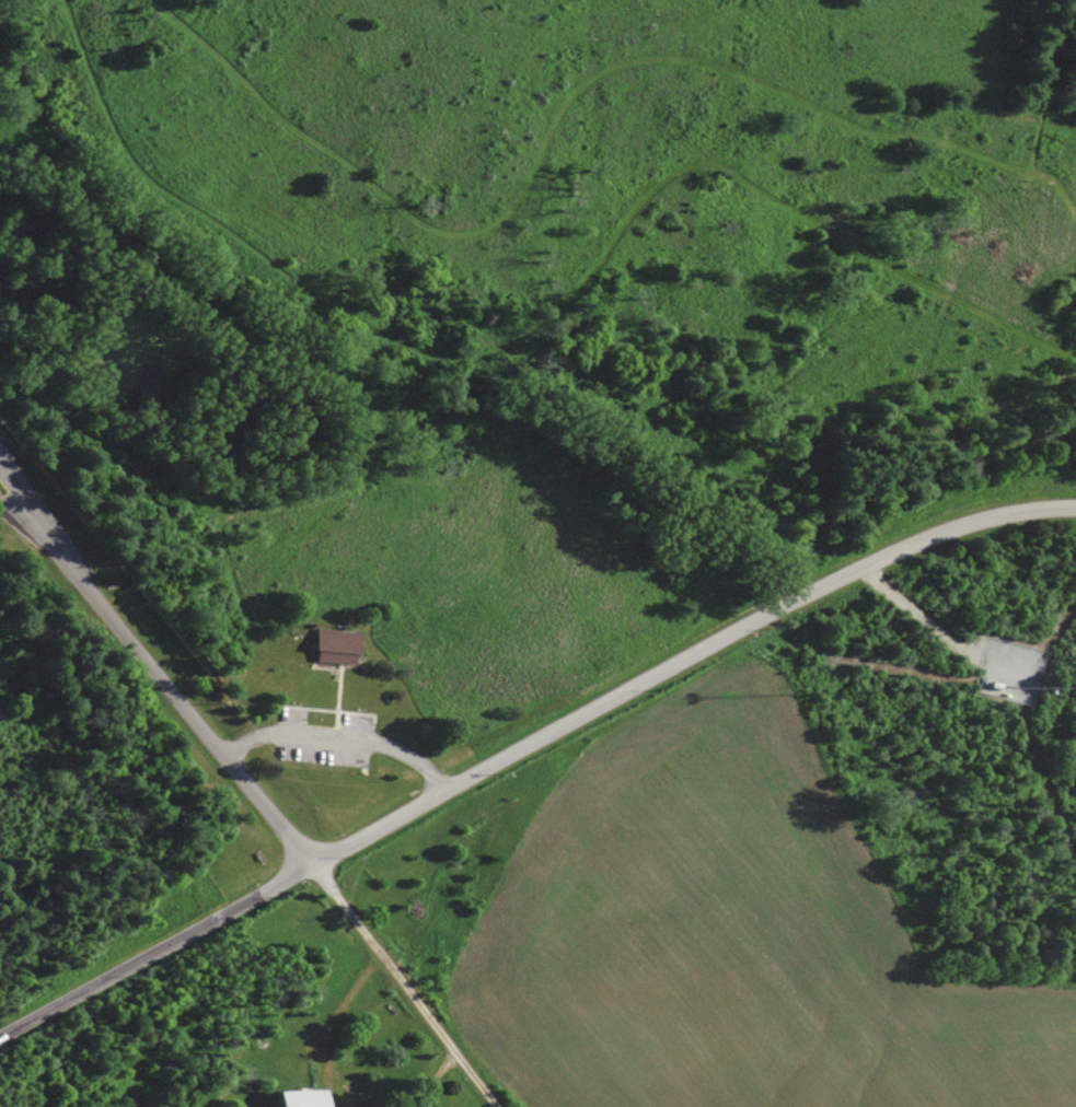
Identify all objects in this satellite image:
road: (568, 102)
road: (556, 296)
road: (34, 528)
road: (412, 583)
building: (335, 645)
road: (152, 667)
road: (340, 742)
road: (528, 747)
road: (198, 781)
road: (401, 981)
building: (297, 1097)
road: (495, 1102)

